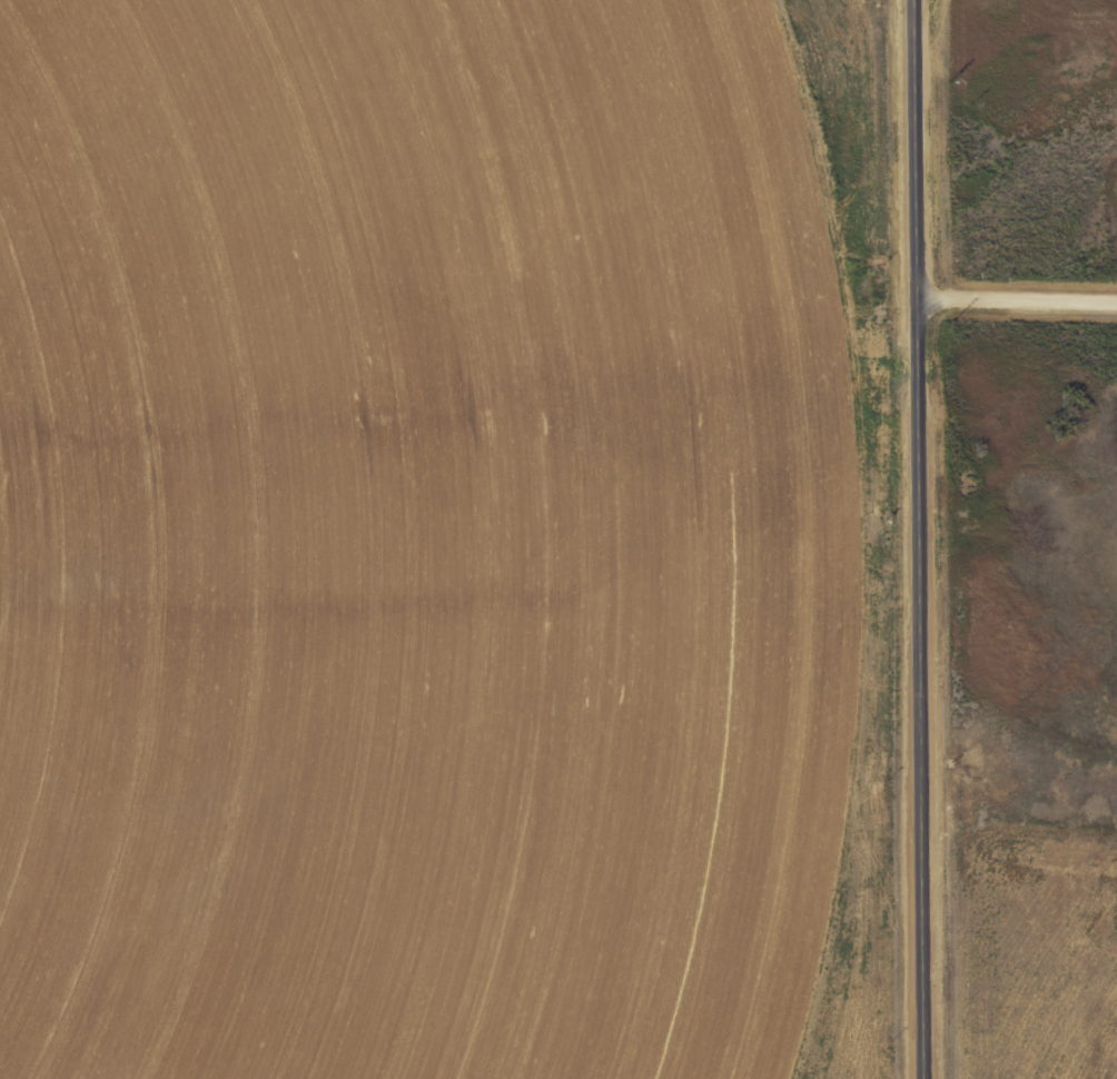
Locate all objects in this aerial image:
road: (1016, 304)
road: (918, 538)
road: (458, 570)

